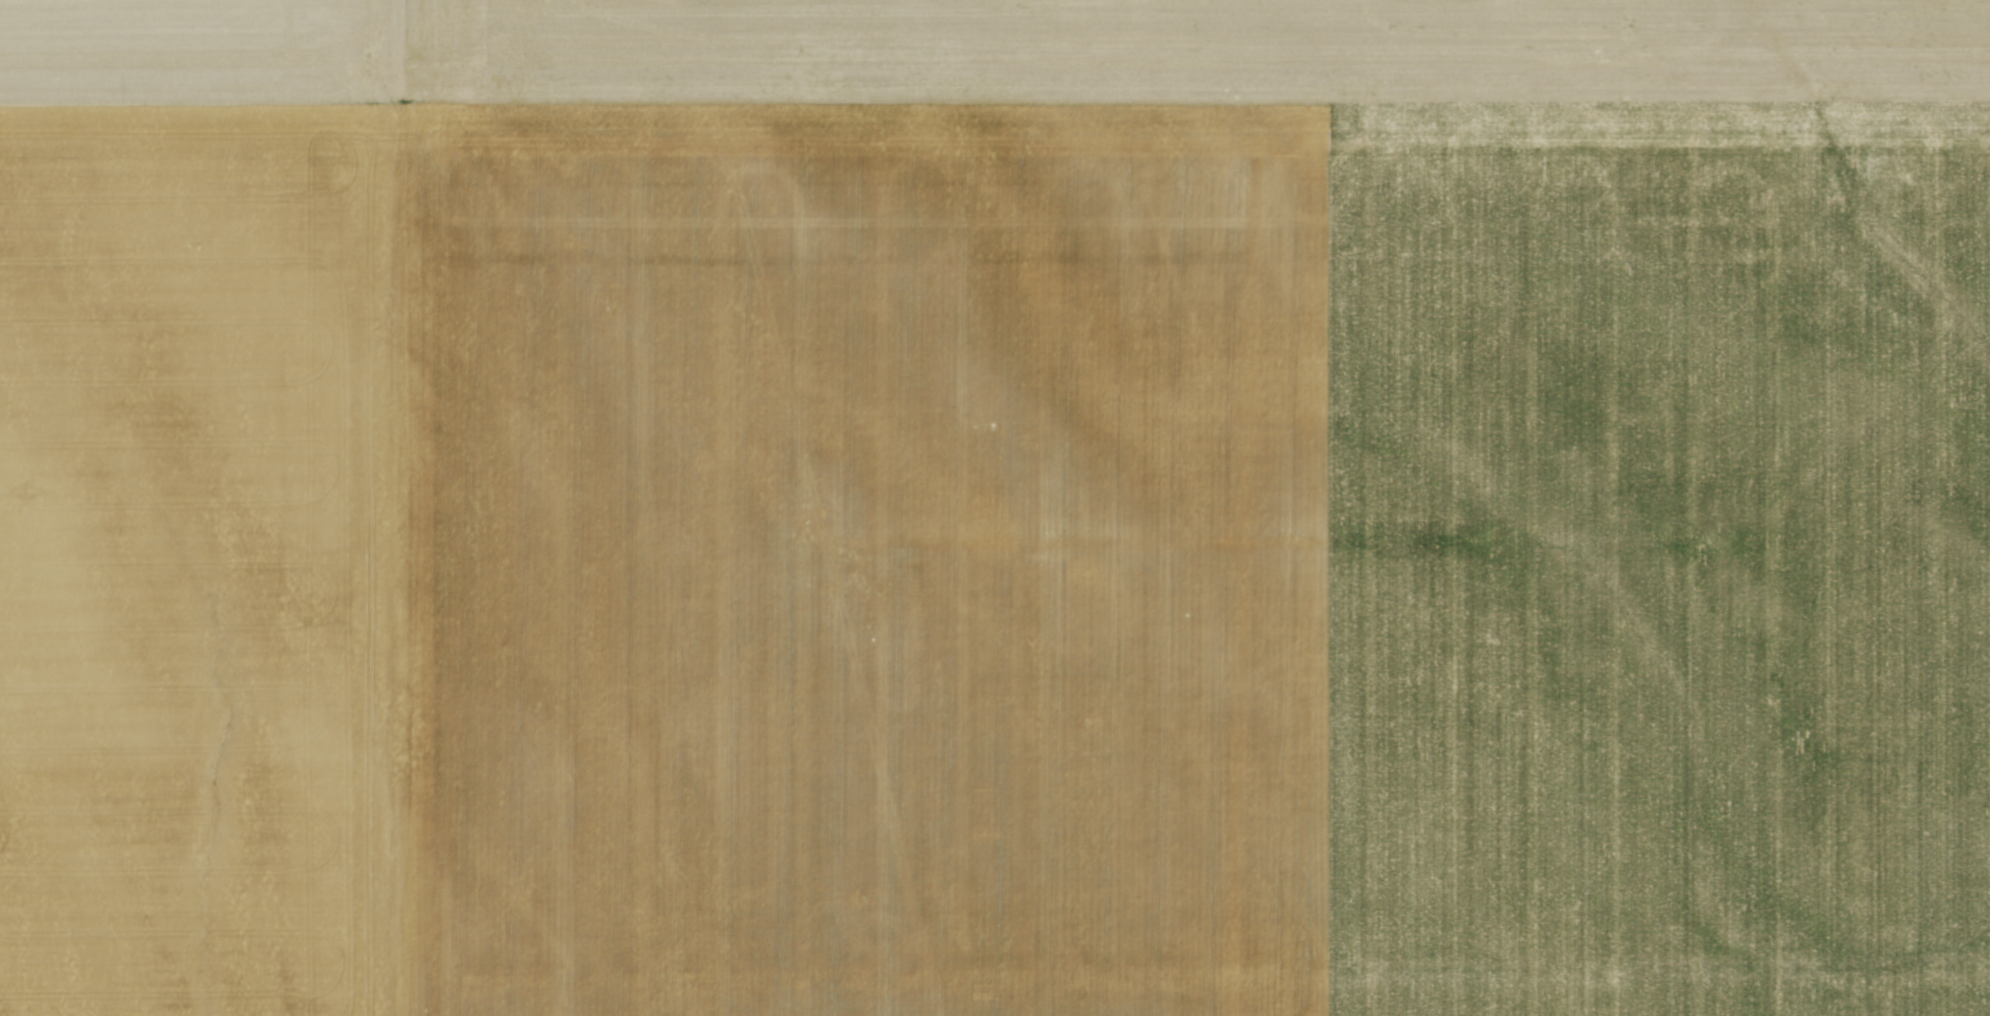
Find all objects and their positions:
road: (409, 34)
crop: (995, 508)

